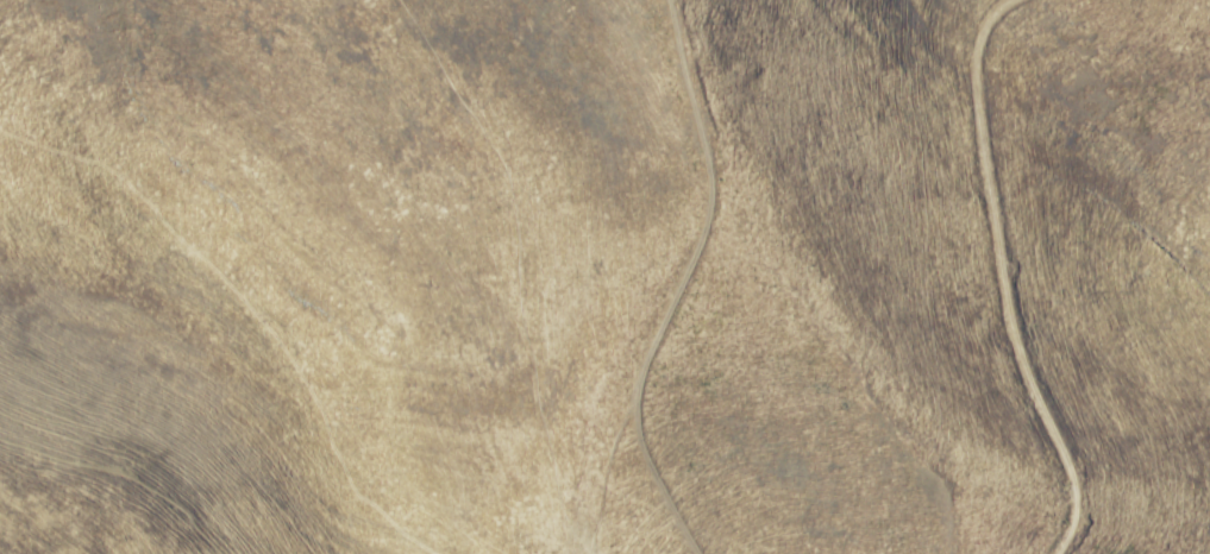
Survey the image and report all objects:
road: (988, 276)
road: (669, 283)

